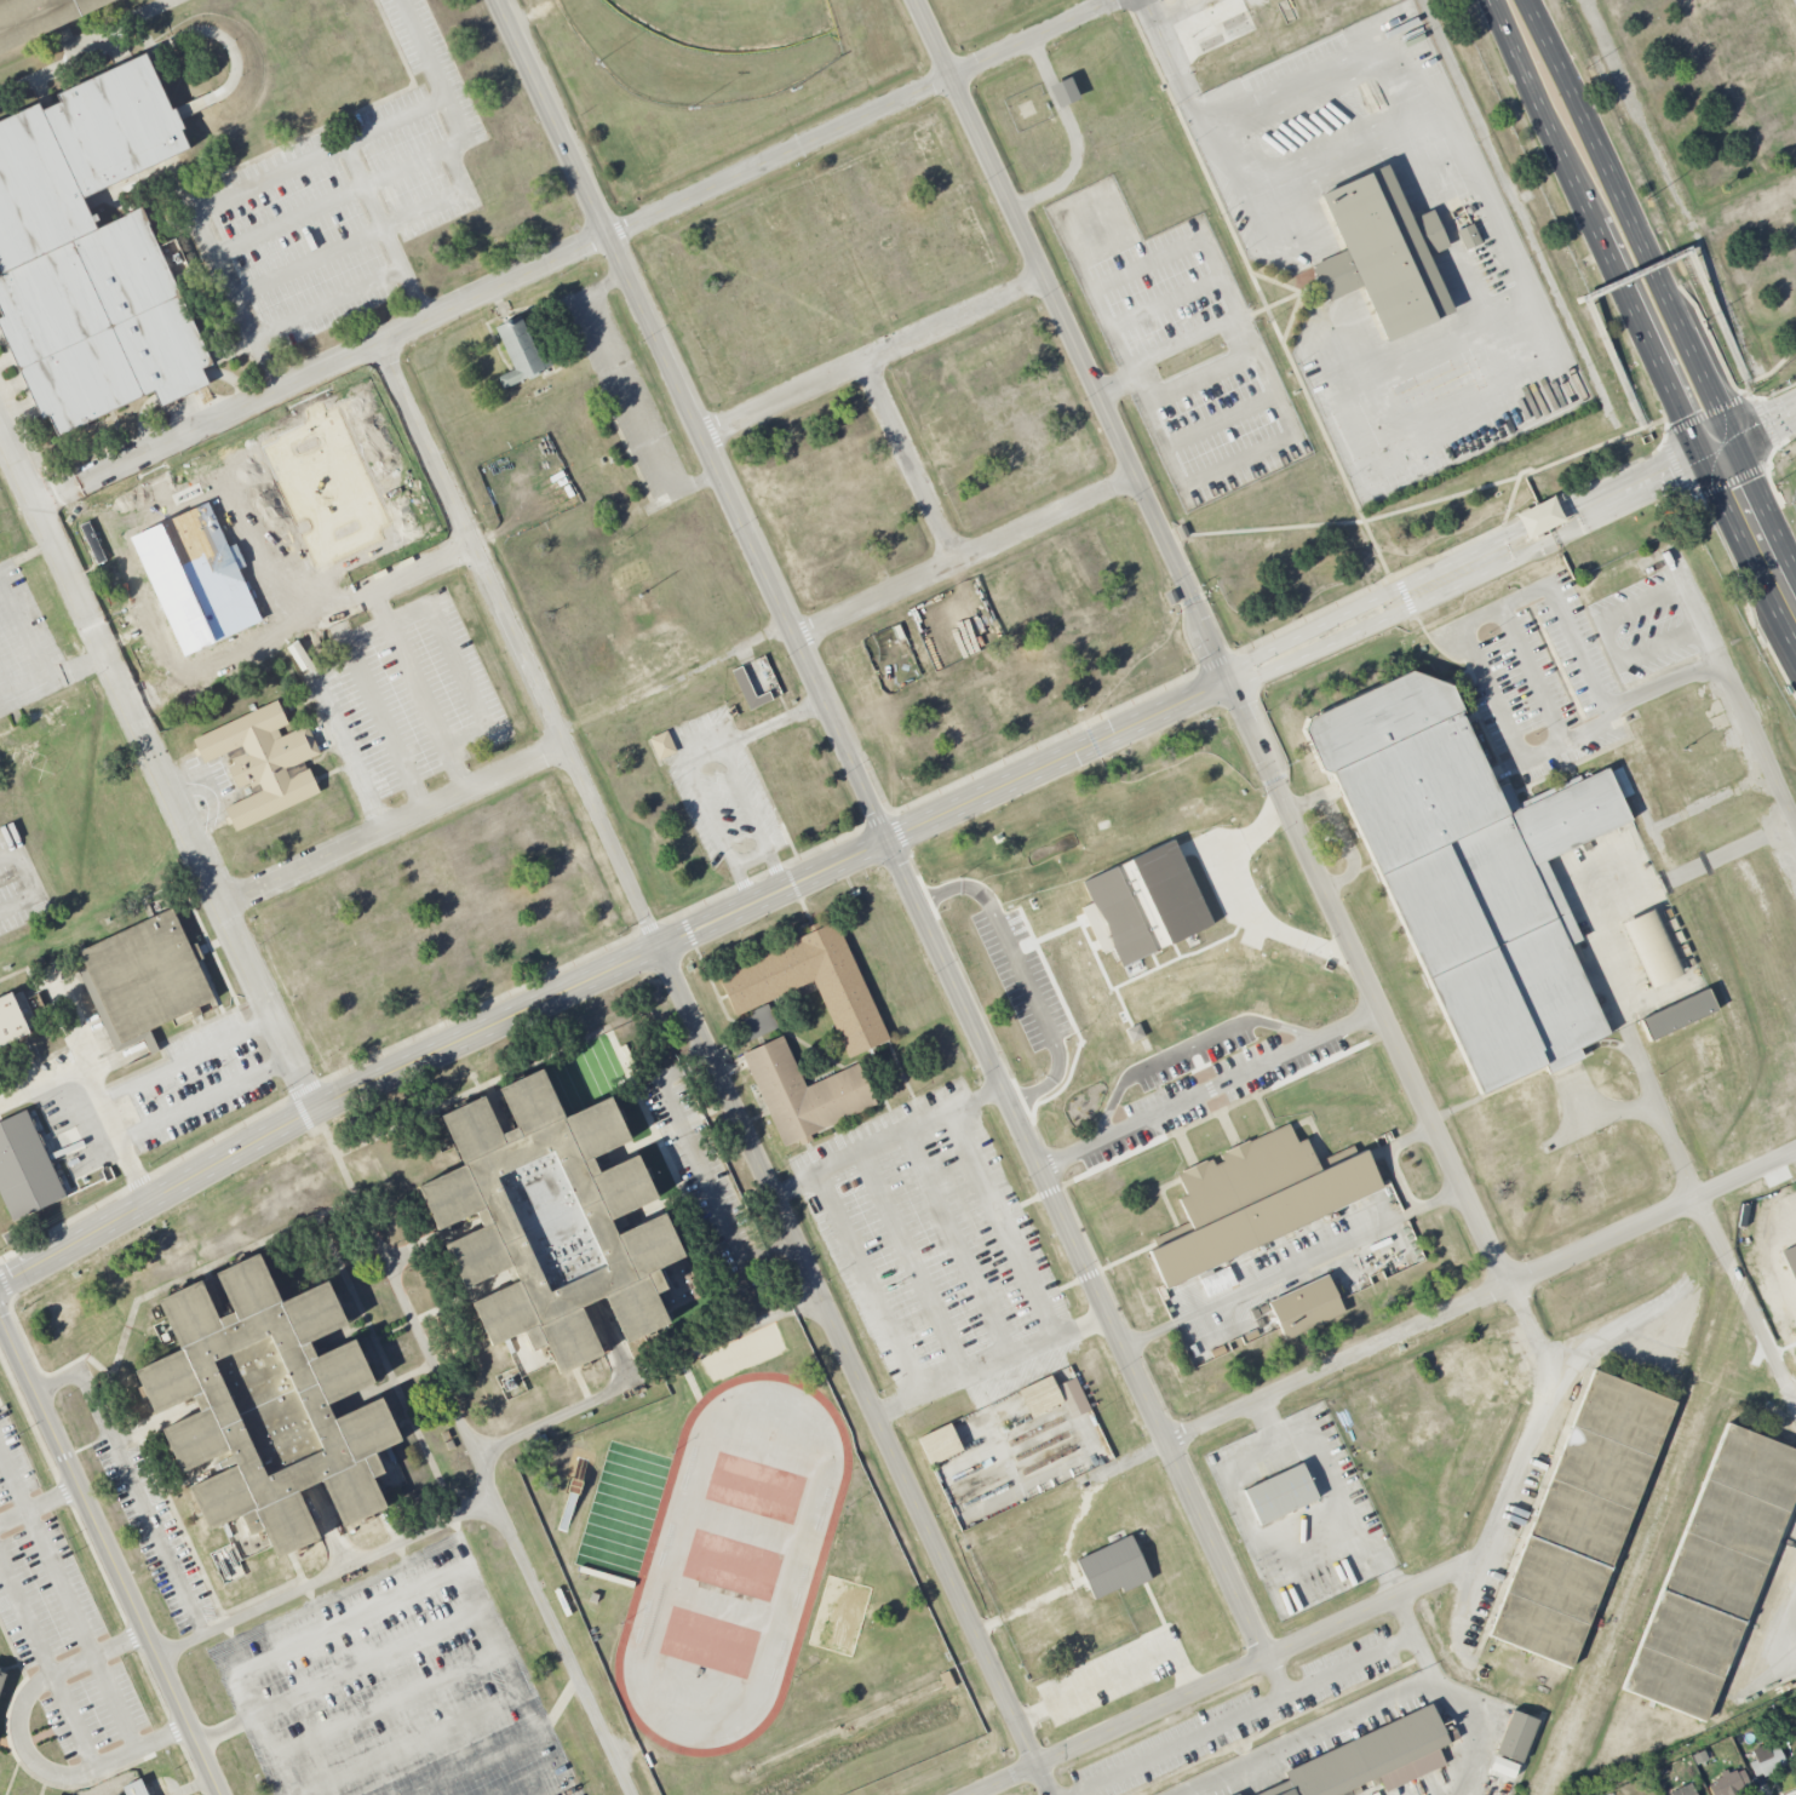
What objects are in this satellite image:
building: (38, 17)
road: (1166, 18)
road: (222, 38)
park: (702, 45)
road: (85, 50)
building: (1063, 92)
road: (1212, 136)
road: (1074, 137)
road: (277, 174)
road: (362, 187)
parking lot: (342, 199)
road: (1633, 222)
road: (1599, 229)
road: (385, 235)
building: (1468, 236)
road: (602, 245)
building: (91, 252)
building: (1383, 254)
road: (311, 263)
road: (1636, 271)
road: (1637, 275)
parking lot: (1181, 345)
building: (520, 351)
road: (877, 359)
road: (1773, 369)
parking lot: (626, 395)
road: (629, 395)
road: (1695, 419)
road: (1757, 430)
traffic signals: (1720, 448)
road: (913, 463)
road: (1635, 488)
road: (61, 500)
road: (1412, 507)
building: (1539, 517)
road: (1365, 523)
road: (1756, 528)
road: (969, 556)
road: (1531, 590)
road: (321, 619)
road: (1304, 619)
road: (1600, 623)
road: (458, 665)
road: (1531, 672)
road: (675, 677)
road: (54, 681)
building: (750, 690)
road: (419, 692)
parking lot: (403, 698)
road: (150, 701)
road: (2, 705)
road: (379, 711)
road: (130, 712)
road: (775, 722)
road: (1589, 723)
road: (1749, 728)
road: (332, 734)
building: (661, 745)
road: (705, 752)
building: (263, 762)
road: (1275, 778)
road: (746, 798)
road: (711, 813)
road: (412, 815)
road: (883, 827)
road: (2, 859)
road: (751, 860)
building: (1470, 871)
road: (237, 893)
road: (769, 896)
building: (1651, 947)
road: (1028, 975)
building: (144, 980)
building: (847, 997)
building: (1677, 1014)
building: (1187, 1021)
building: (30, 1026)
road: (1190, 1049)
road: (289, 1054)
road: (711, 1059)
road: (187, 1060)
building: (804, 1093)
road: (1213, 1093)
road: (97, 1097)
road: (205, 1097)
road: (889, 1143)
building: (25, 1168)
road: (701, 1169)
road: (1400, 1180)
building: (1256, 1200)
road: (1706, 1217)
building: (550, 1221)
road: (1006, 1226)
road: (1267, 1279)
road: (1480, 1295)
road: (885, 1306)
building: (1306, 1306)
road: (1613, 1336)
road: (1016, 1354)
road: (647, 1376)
building: (1039, 1395)
building: (1073, 1398)
building: (268, 1405)
building: (939, 1444)
road: (131, 1481)
building: (1279, 1495)
road: (38, 1499)
building: (1580, 1518)
road: (507, 1529)
road: (110, 1555)
building: (228, 1564)
building: (1113, 1567)
building: (1714, 1572)
road: (325, 1577)
road: (70, 1598)
road: (1784, 1624)
road: (1413, 1630)
road: (121, 1642)
road: (48, 1663)
road: (1278, 1673)
road: (1229, 1674)
building: (2, 1679)
parking lot: (392, 1690)
road: (1241, 1713)
road: (1464, 1725)
road: (265, 1727)
building: (1515, 1736)
building: (1365, 1756)
building: (1767, 1762)
road: (39, 1766)
building: (1503, 1766)
road: (11, 1778)
road: (1042, 1783)
building: (1731, 1783)
building: (134, 1788)
building: (1682, 1790)
building: (1236, 1794)

